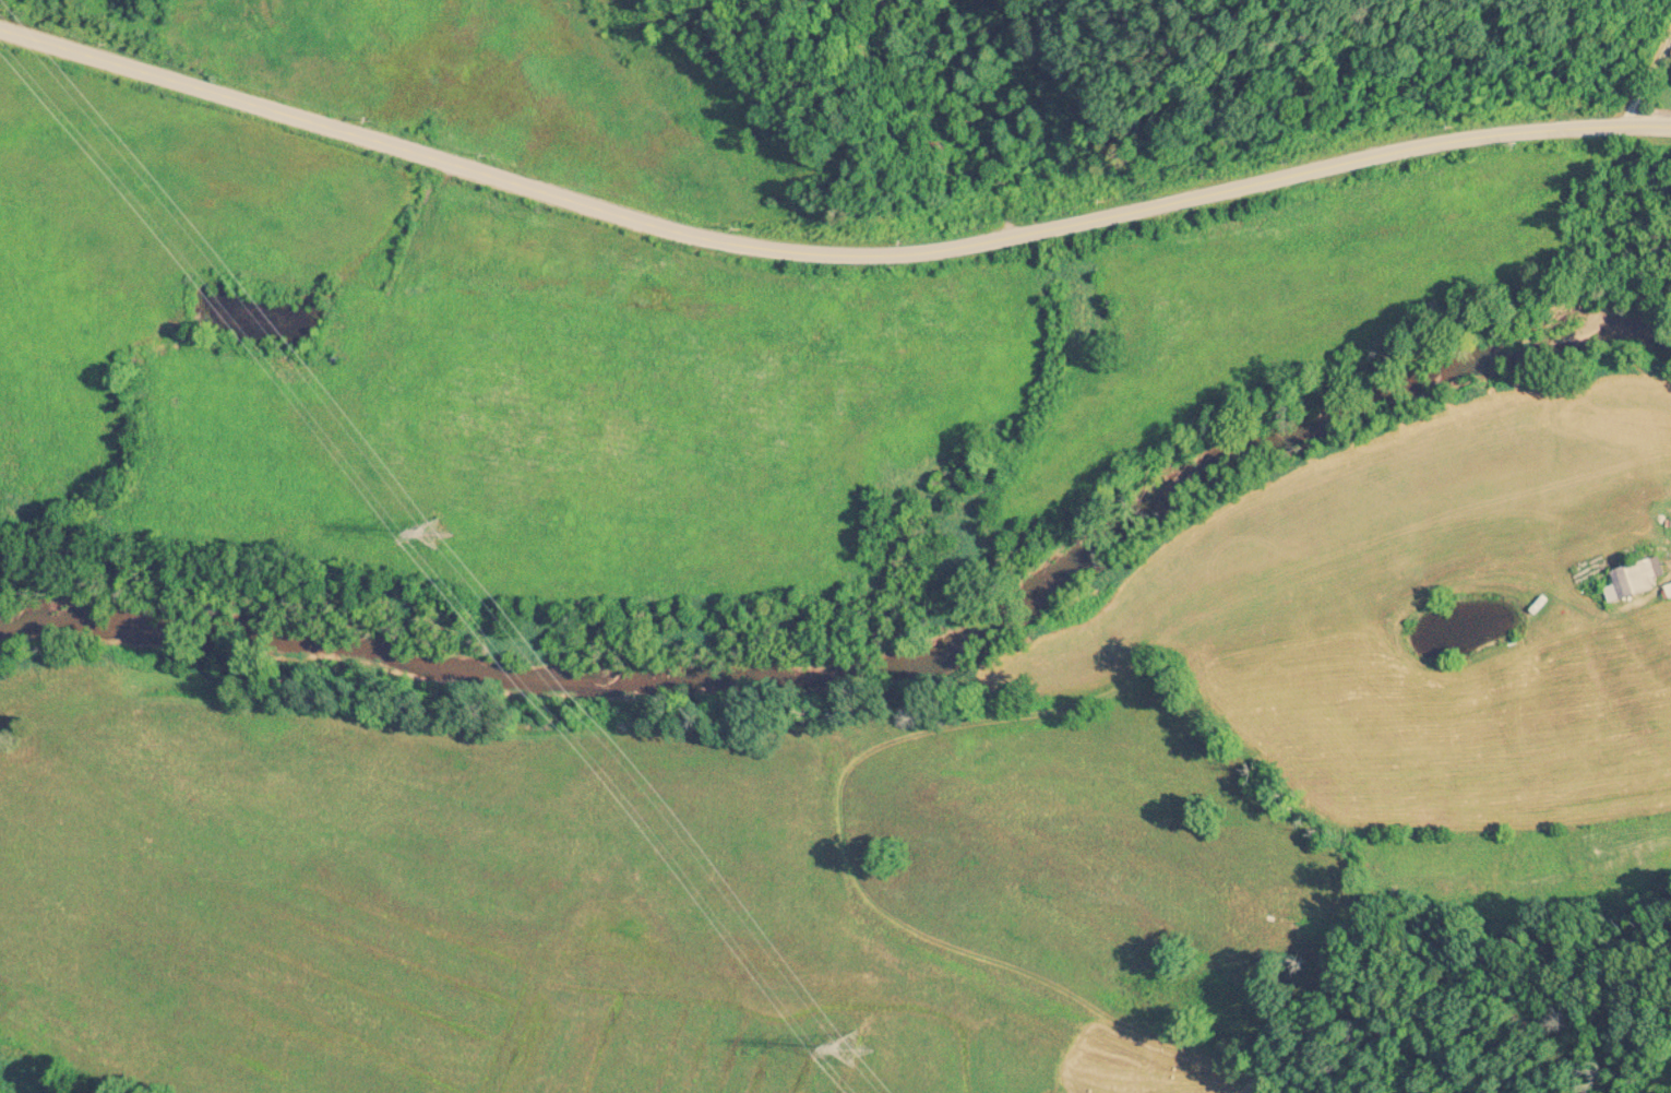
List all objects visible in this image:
road: (1640, 75)
road: (826, 253)
building: (1631, 582)
building: (1668, 590)
river: (878, 672)

